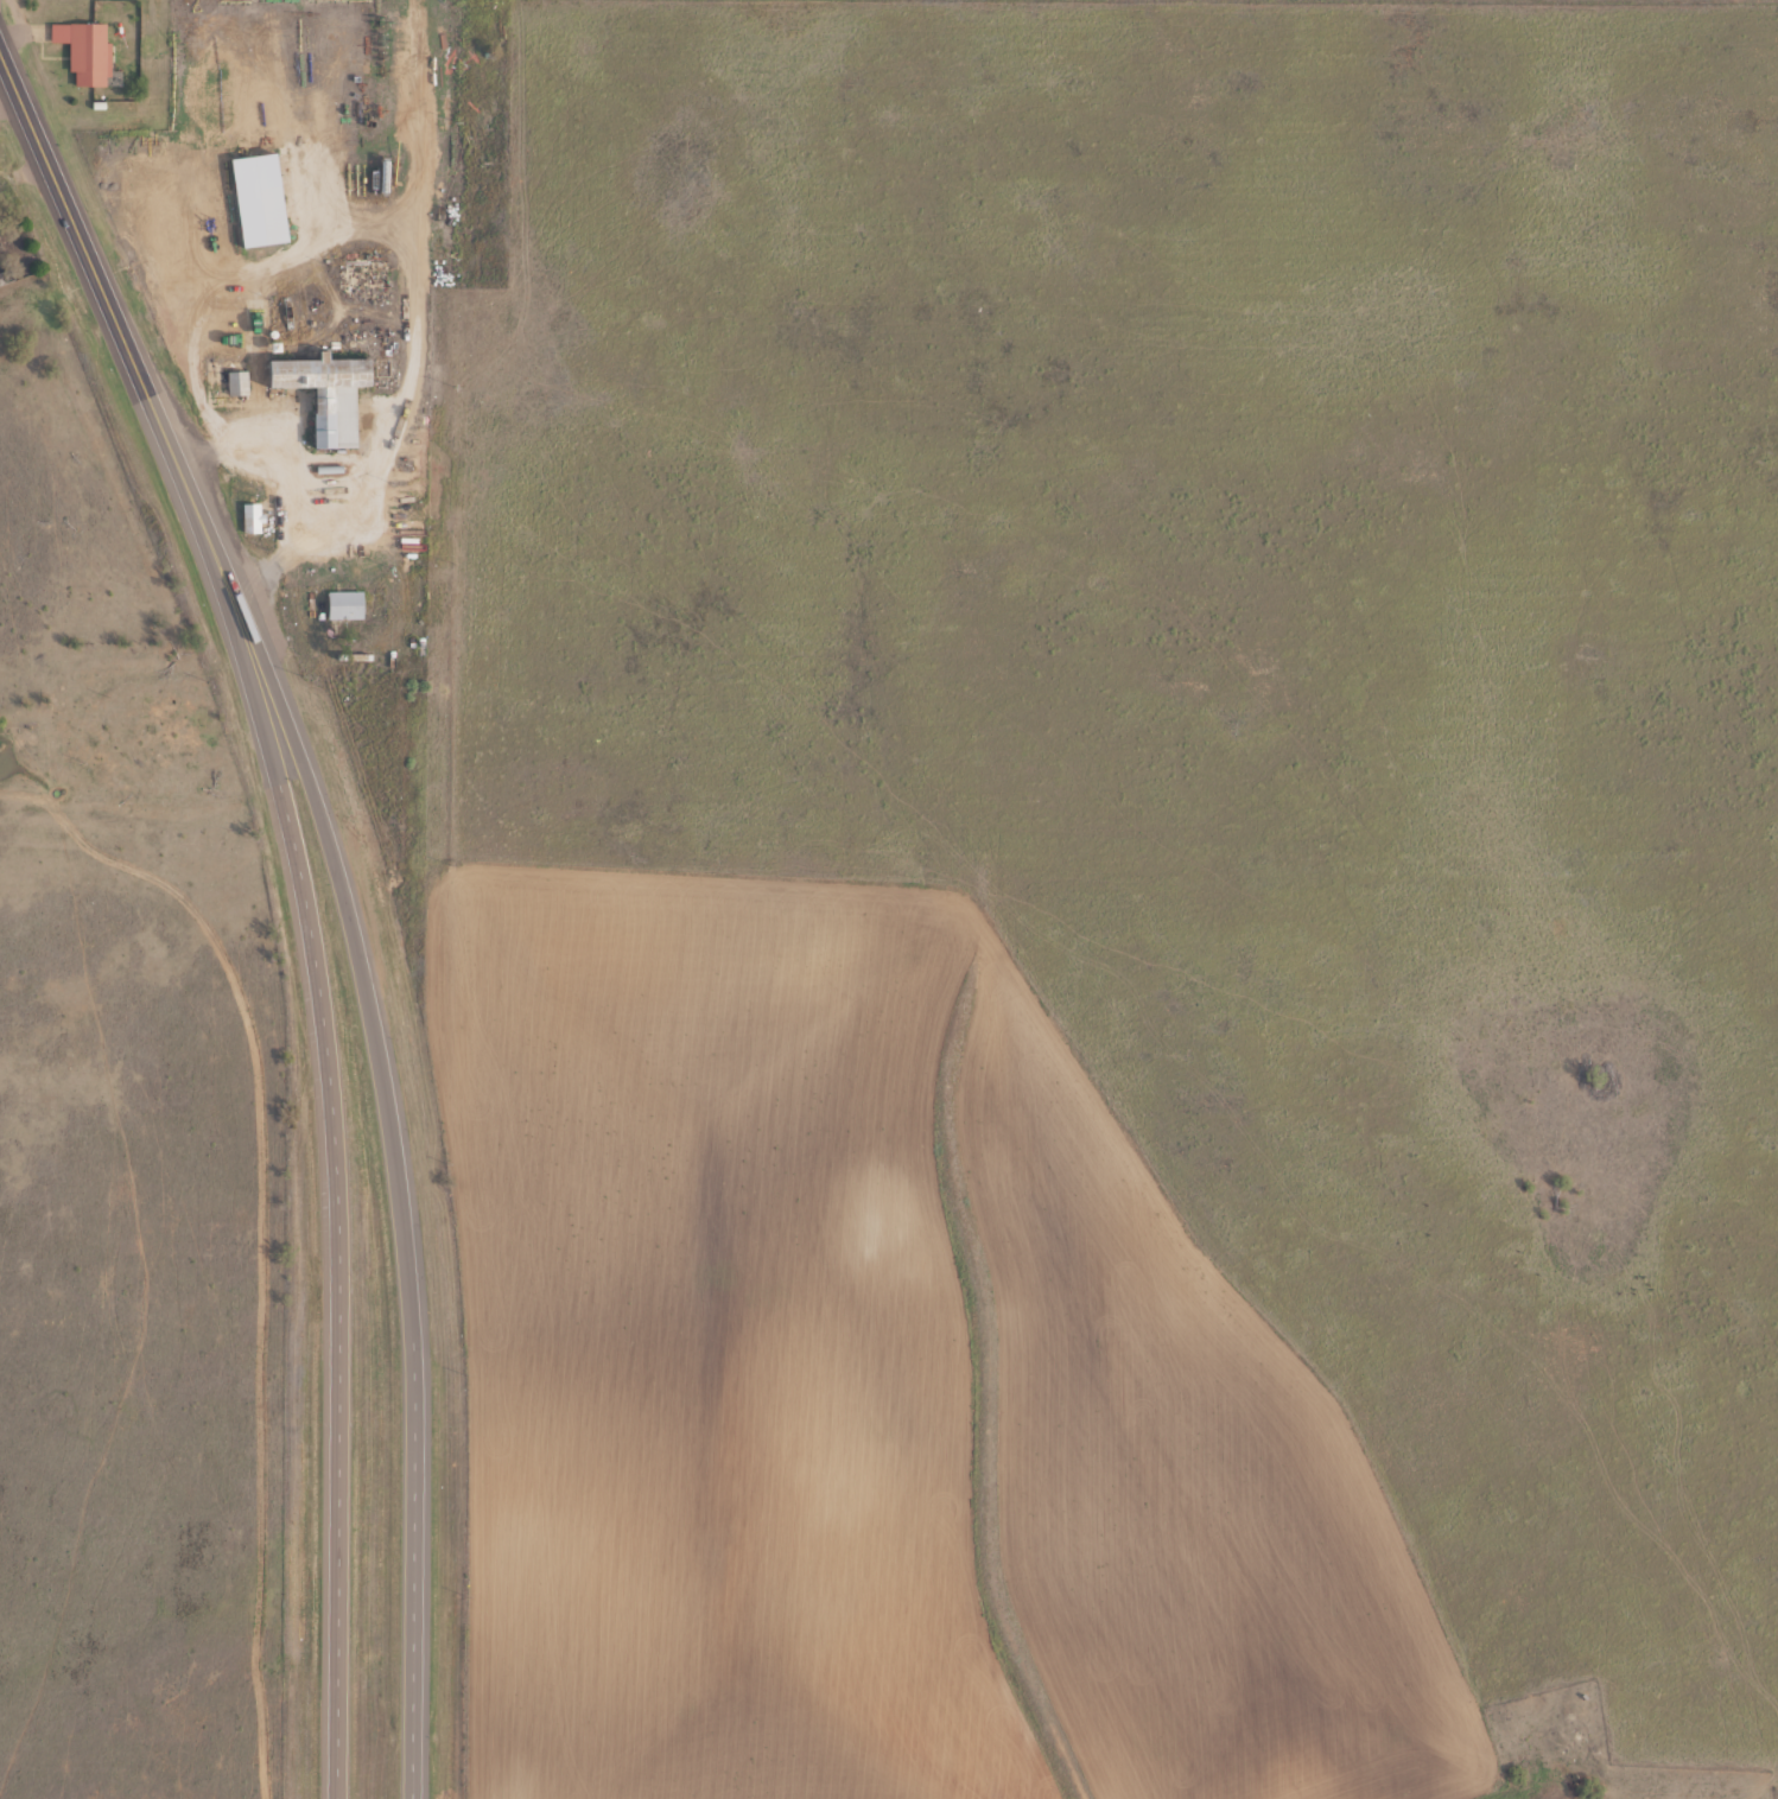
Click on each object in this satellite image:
building: (89, 56)
road: (326, 113)
road: (392, 218)
road: (78, 235)
road: (214, 254)
road: (451, 343)
road: (275, 351)
building: (239, 384)
building: (326, 395)
building: (254, 520)
building: (437, 578)
road: (216, 600)
building: (344, 606)
road: (146, 837)
road: (330, 847)
road: (342, 1288)
road: (419, 1551)

